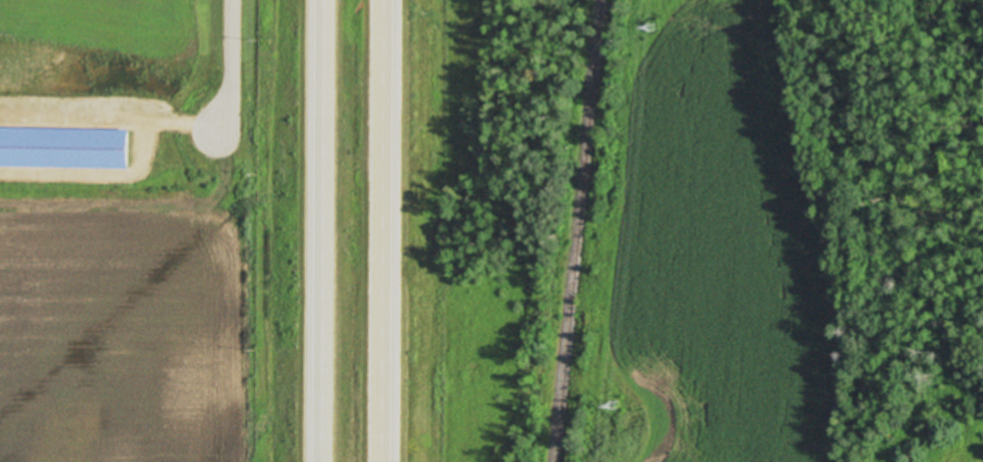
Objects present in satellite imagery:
power tower: (656, 24)
road: (235, 66)
building: (63, 146)
road: (326, 231)
road: (388, 231)
railway: (580, 231)
power tower: (621, 404)

